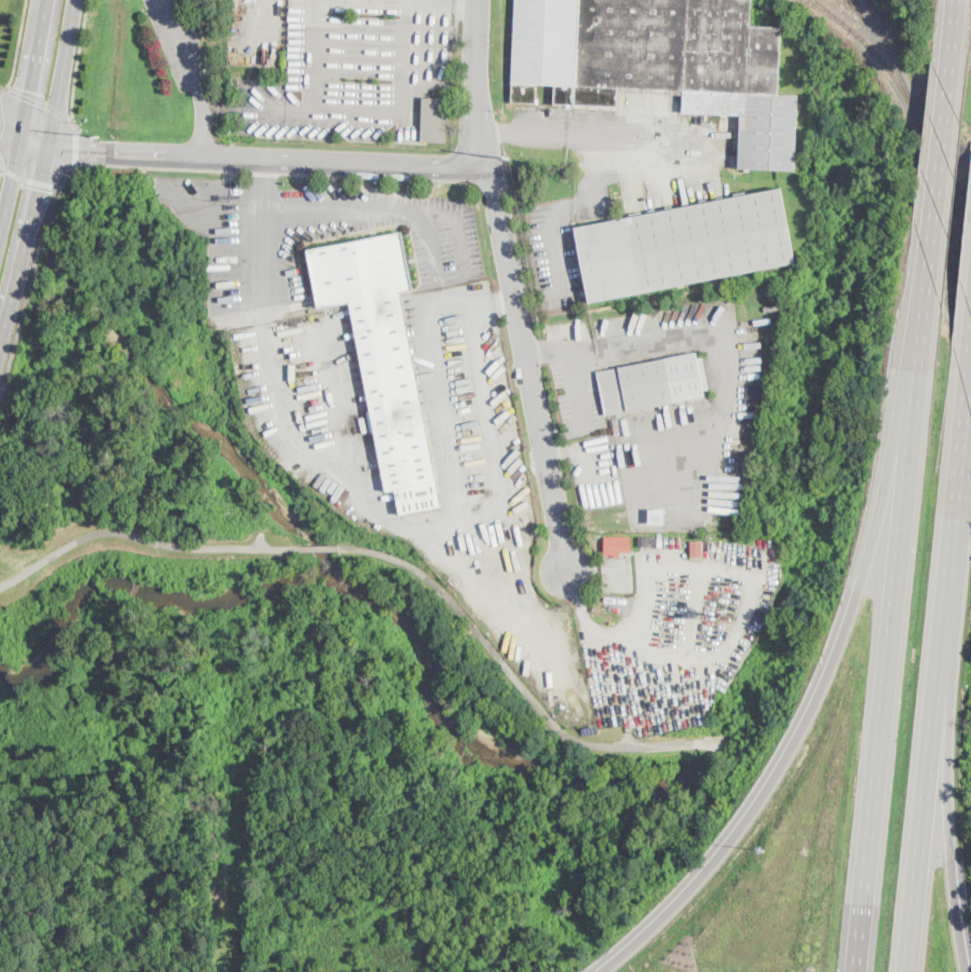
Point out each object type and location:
railway: (827, 14)
road: (954, 24)
road: (17, 47)
road: (312, 55)
railway: (881, 58)
building: (661, 63)
road: (76, 65)
road: (64, 73)
road: (195, 76)
road: (475, 82)
traffic signals: (32, 93)
road: (40, 102)
road: (362, 112)
road: (1, 120)
road: (27, 120)
building: (435, 120)
railway: (923, 127)
road: (561, 132)
power tower: (97, 134)
road: (24, 137)
road: (76, 146)
power tower: (506, 153)
traffic signals: (89, 154)
road: (941, 154)
road: (268, 158)
road: (1, 168)
road: (3, 170)
road: (66, 175)
road: (32, 180)
traffic signals: (41, 189)
road: (217, 194)
road: (377, 207)
road: (263, 230)
road: (458, 230)
building: (685, 245)
road: (26, 249)
road: (27, 291)
building: (379, 340)
road: (559, 347)
road: (722, 352)
road: (527, 364)
building: (653, 383)
road: (442, 400)
road: (339, 404)
building: (419, 498)
building: (656, 516)
road: (444, 525)
road: (141, 537)
building: (618, 541)
building: (647, 541)
building: (697, 547)
road: (319, 548)
road: (893, 615)
road: (596, 619)
road: (939, 670)
road: (533, 699)
road: (813, 704)
road: (949, 810)

